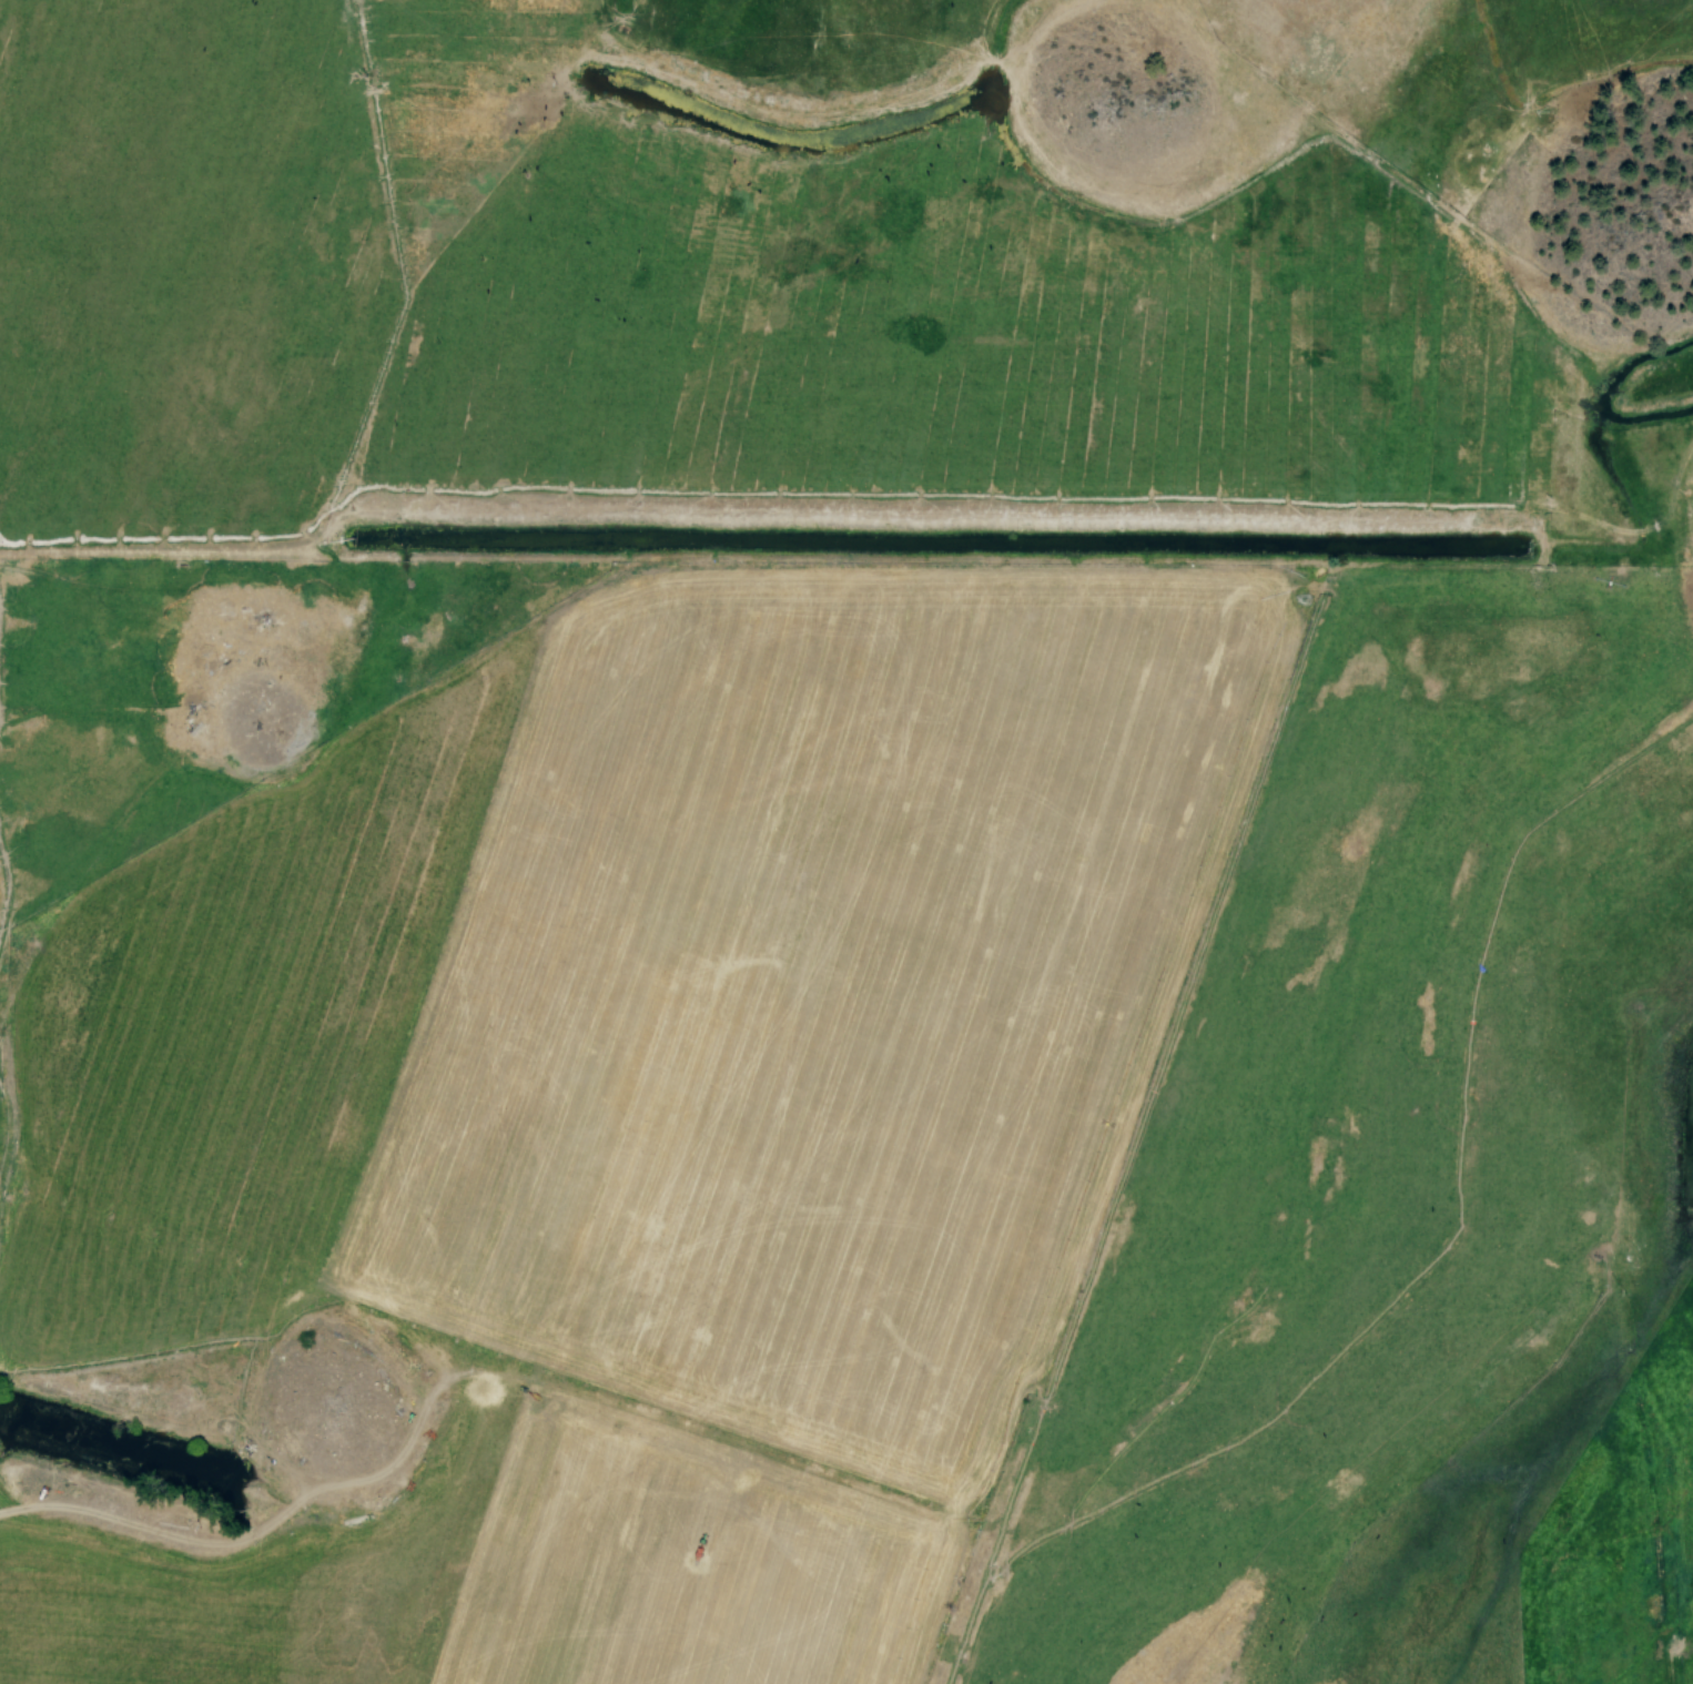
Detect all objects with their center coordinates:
wastewater plant: (943, 523)
wastewater plant: (107, 1431)

